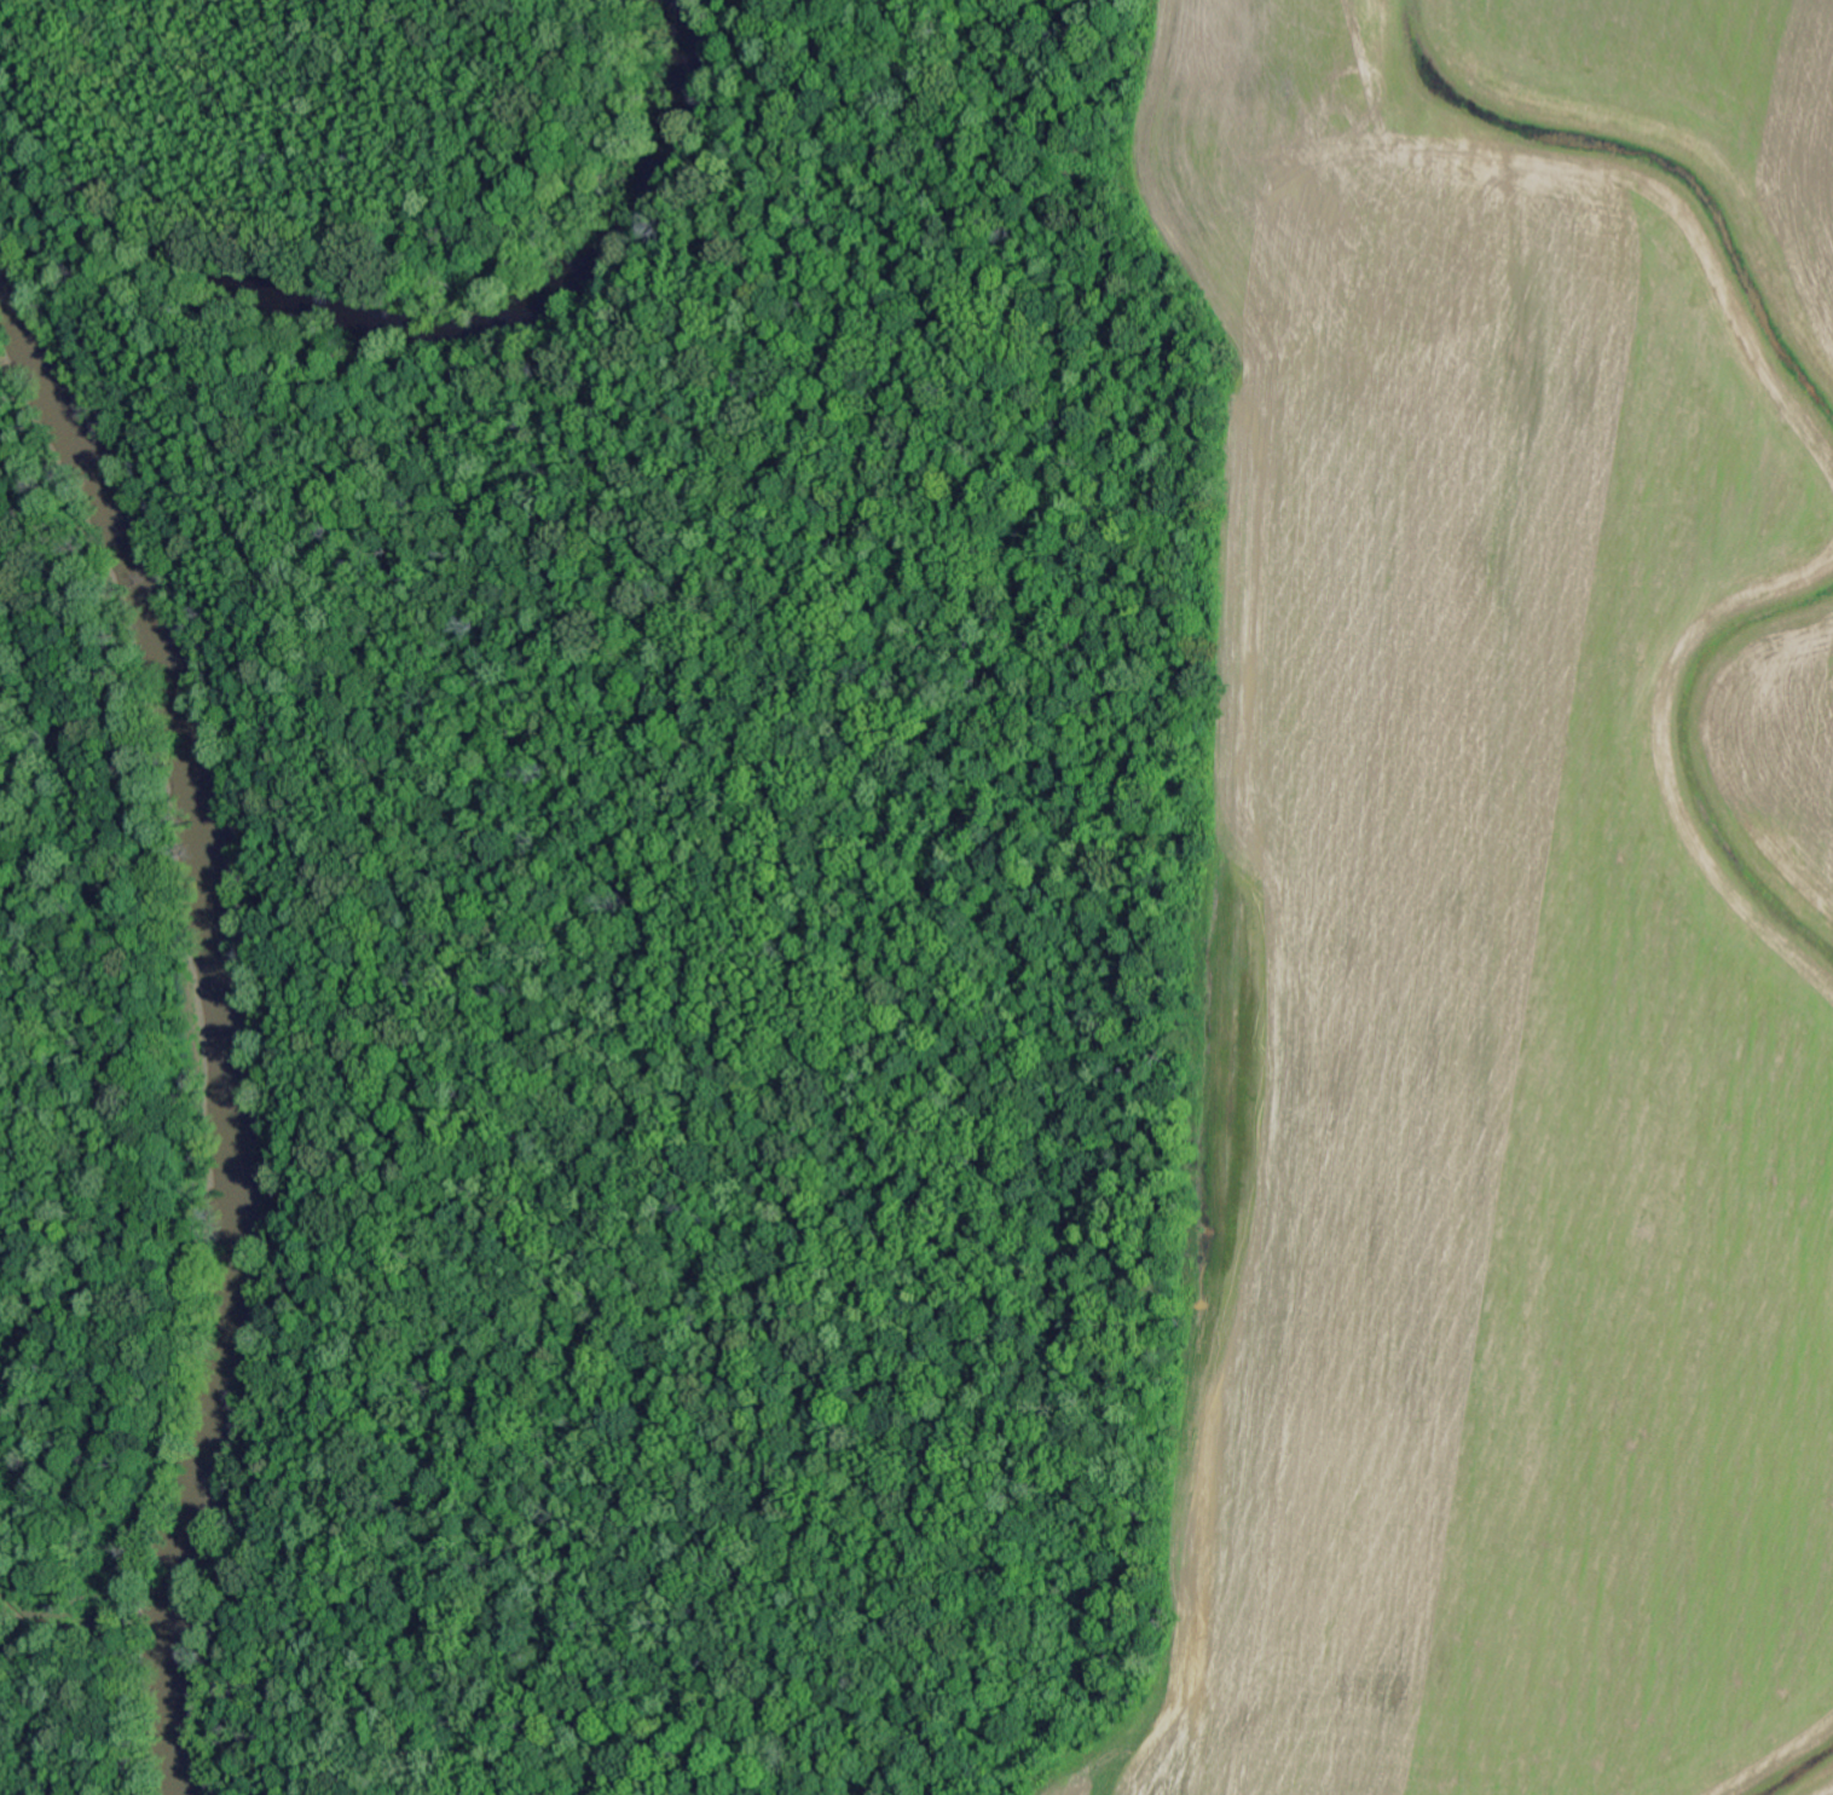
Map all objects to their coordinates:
river: (220, 1029)

